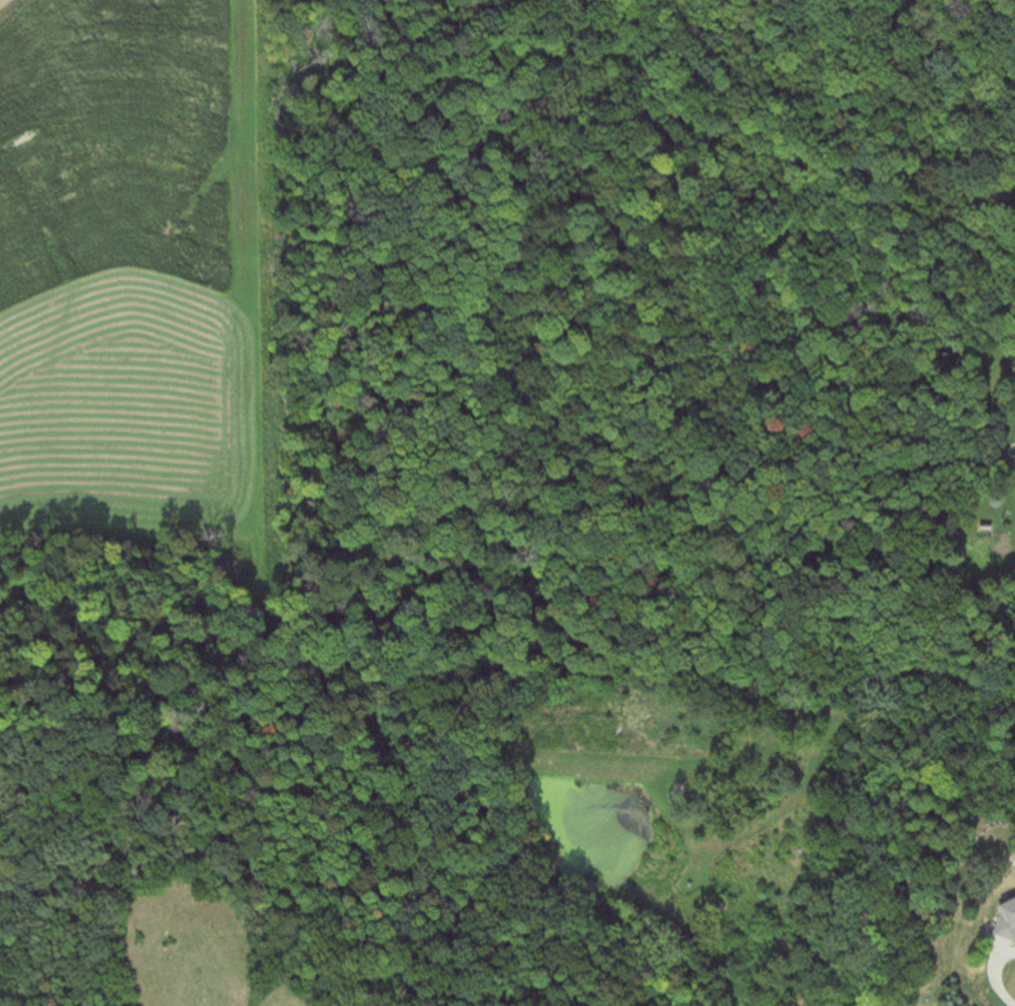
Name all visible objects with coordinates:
building: (1002, 916)

